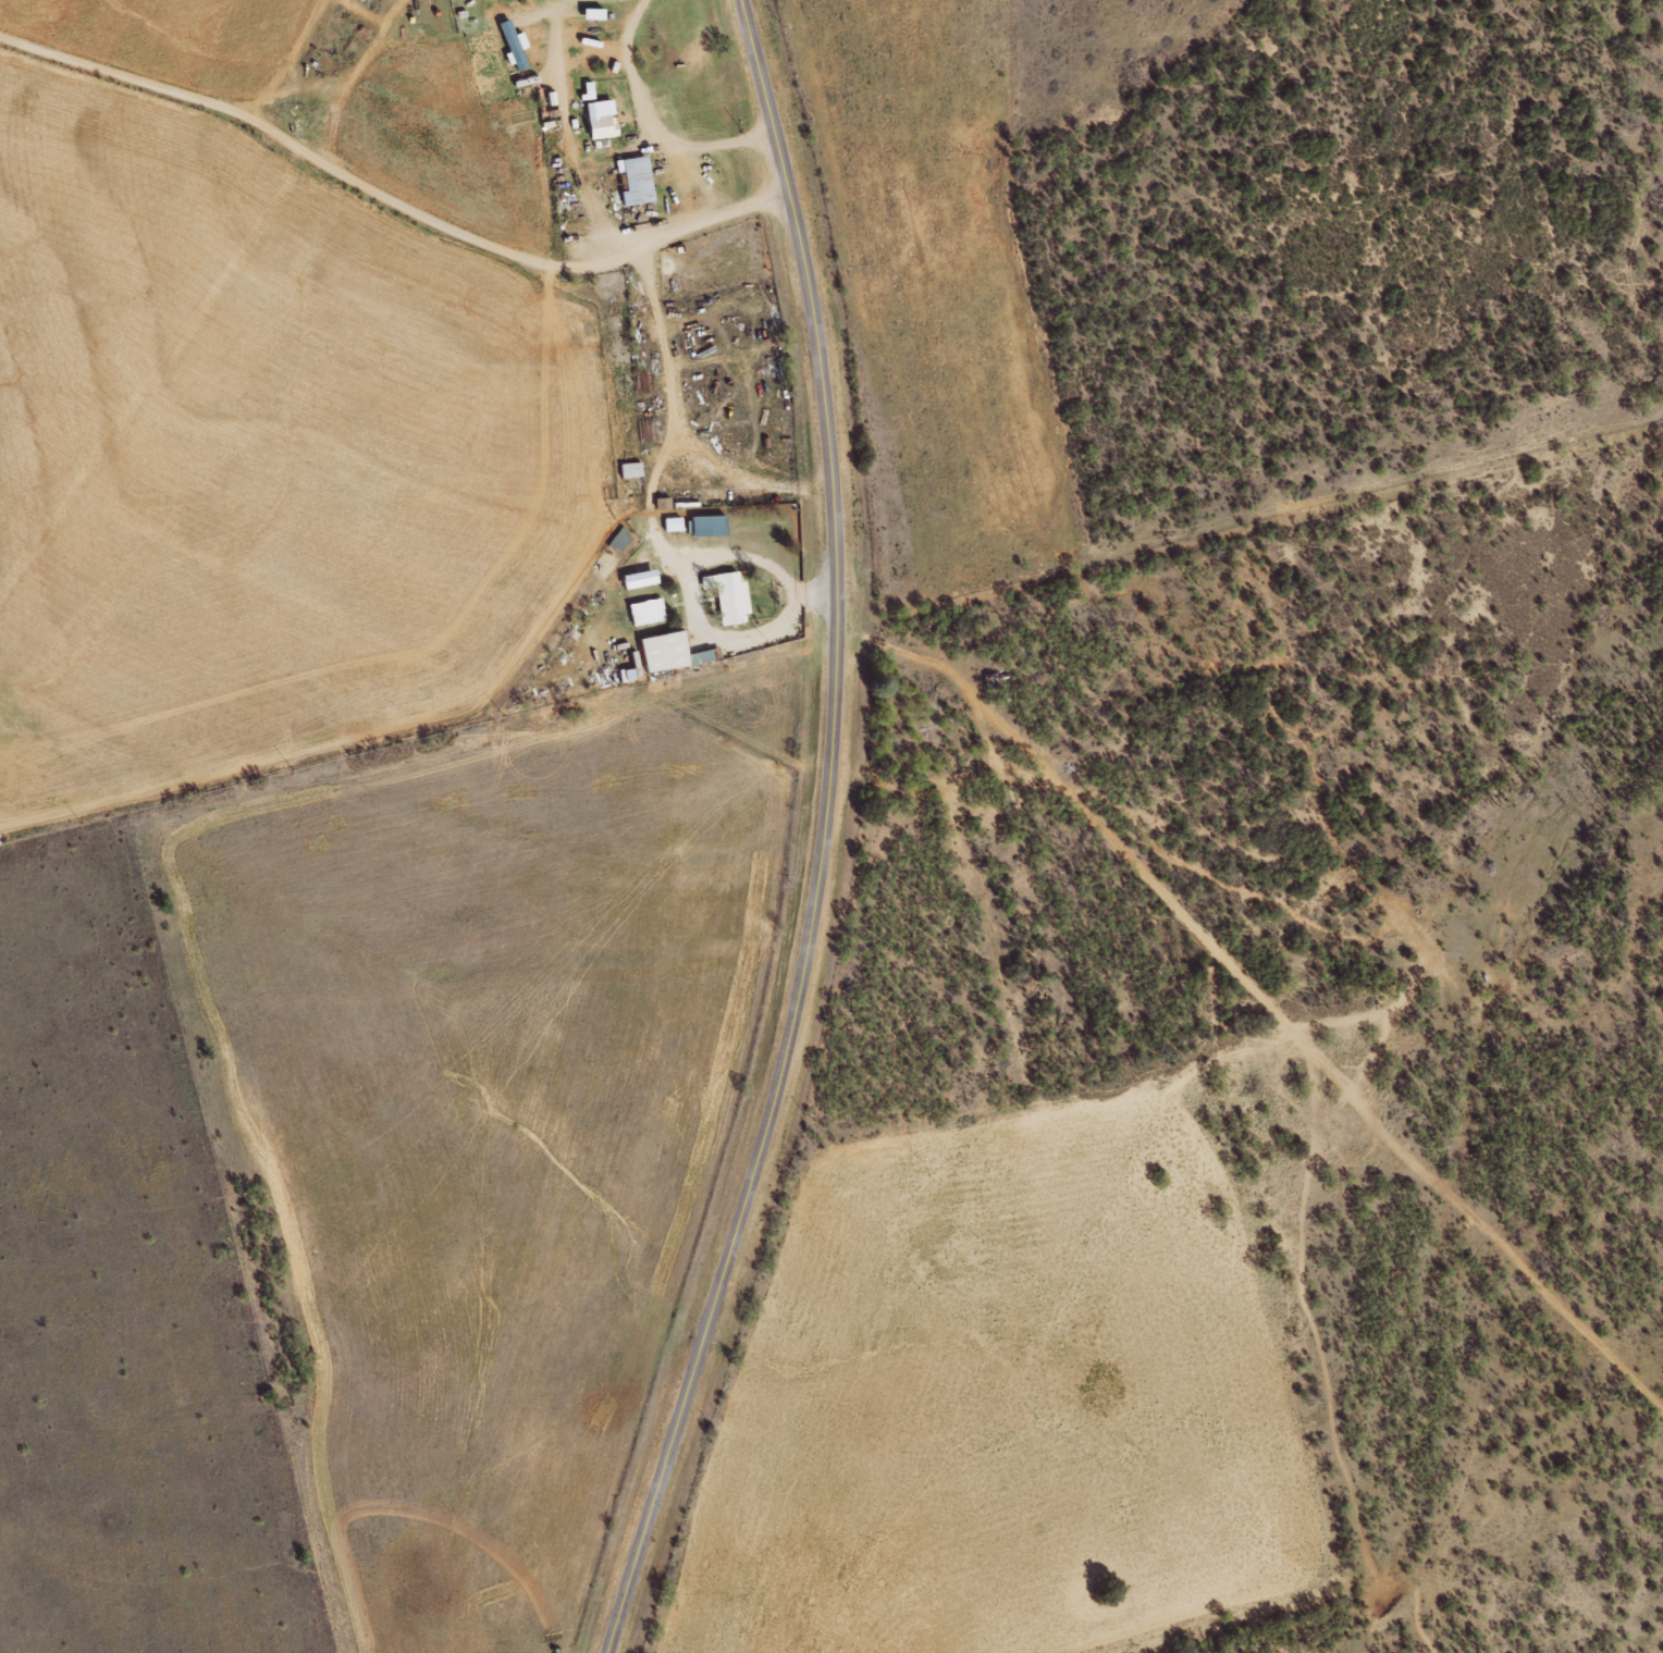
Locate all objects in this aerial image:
building: (589, 89)
building: (603, 118)
building: (638, 178)
road: (678, 429)
building: (632, 468)
road: (743, 481)
building: (664, 502)
building: (674, 522)
building: (711, 523)
road: (1246, 550)
road: (749, 554)
building: (641, 577)
road: (816, 592)
building: (730, 594)
building: (649, 609)
building: (673, 651)
building: (628, 673)
road: (824, 836)

